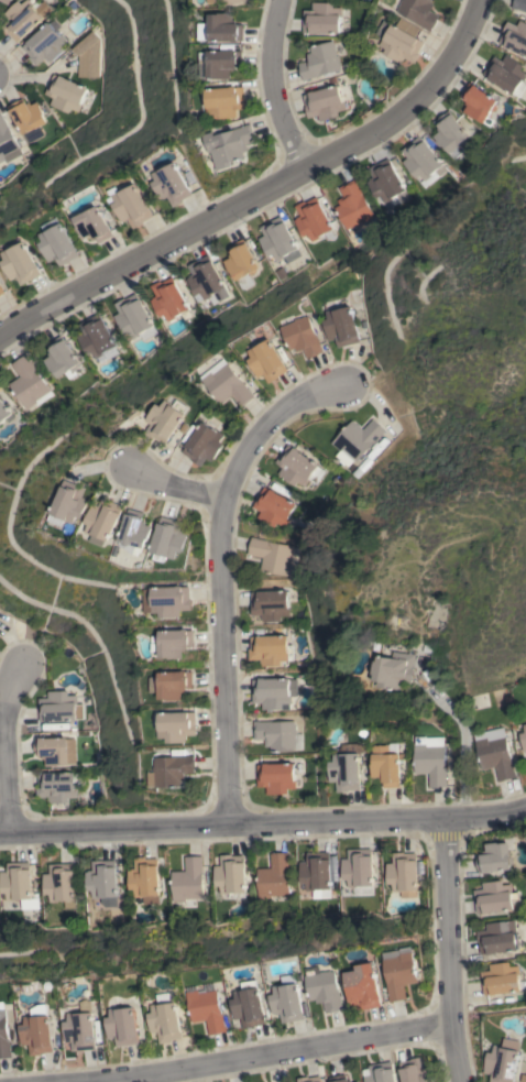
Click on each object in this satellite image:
building: (6, 1)
building: (226, 1)
building: (518, 4)
building: (418, 12)
building: (24, 17)
building: (321, 18)
building: (223, 29)
building: (515, 36)
building: (401, 40)
building: (44, 43)
building: (87, 55)
building: (319, 61)
building: (221, 62)
building: (506, 74)
road: (274, 86)
building: (64, 94)
building: (227, 101)
building: (324, 102)
building: (478, 102)
building: (28, 118)
building: (450, 134)
building: (7, 142)
building: (230, 144)
building: (421, 161)
building: (385, 182)
building: (172, 184)
road: (260, 193)
building: (351, 205)
building: (132, 206)
building: (313, 219)
building: (95, 225)
building: (277, 240)
building: (58, 242)
building: (21, 263)
building: (241, 265)
building: (205, 280)
building: (1, 289)
building: (167, 298)
building: (133, 317)
building: (340, 326)
building: (302, 336)
building: (96, 337)
building: (59, 357)
building: (265, 360)
building: (28, 383)
building: (224, 383)
building: (4, 413)
building: (164, 419)
building: (357, 438)
building: (202, 444)
building: (297, 467)
road: (174, 483)
building: (69, 503)
building: (273, 506)
building: (103, 520)
building: (135, 533)
building: (168, 538)
building: (272, 556)
road: (222, 570)
building: (167, 600)
building: (269, 604)
building: (175, 642)
building: (270, 649)
building: (393, 669)
building: (172, 684)
building: (272, 691)
building: (59, 707)
building: (177, 725)
road: (461, 726)
building: (275, 734)
building: (524, 737)
road: (3, 743)
building: (52, 750)
building: (494, 752)
building: (429, 758)
building: (385, 765)
building: (346, 767)
building: (171, 770)
building: (275, 777)
building: (58, 786)
road: (263, 820)
building: (493, 857)
building: (358, 867)
building: (318, 871)
building: (403, 873)
building: (230, 874)
building: (273, 877)
building: (144, 879)
building: (101, 882)
building: (187, 883)
building: (59, 884)
building: (18, 885)
building: (494, 897)
building: (497, 938)
road: (446, 950)
building: (399, 972)
building: (500, 979)
building: (364, 987)
building: (324, 988)
building: (289, 1001)
building: (250, 1005)
building: (207, 1007)
building: (166, 1018)
building: (123, 1025)
building: (81, 1028)
building: (37, 1030)
building: (4, 1035)
road: (256, 1057)
building: (502, 1061)
building: (415, 1071)
building: (381, 1072)
building: (309, 1079)
building: (339, 1079)

